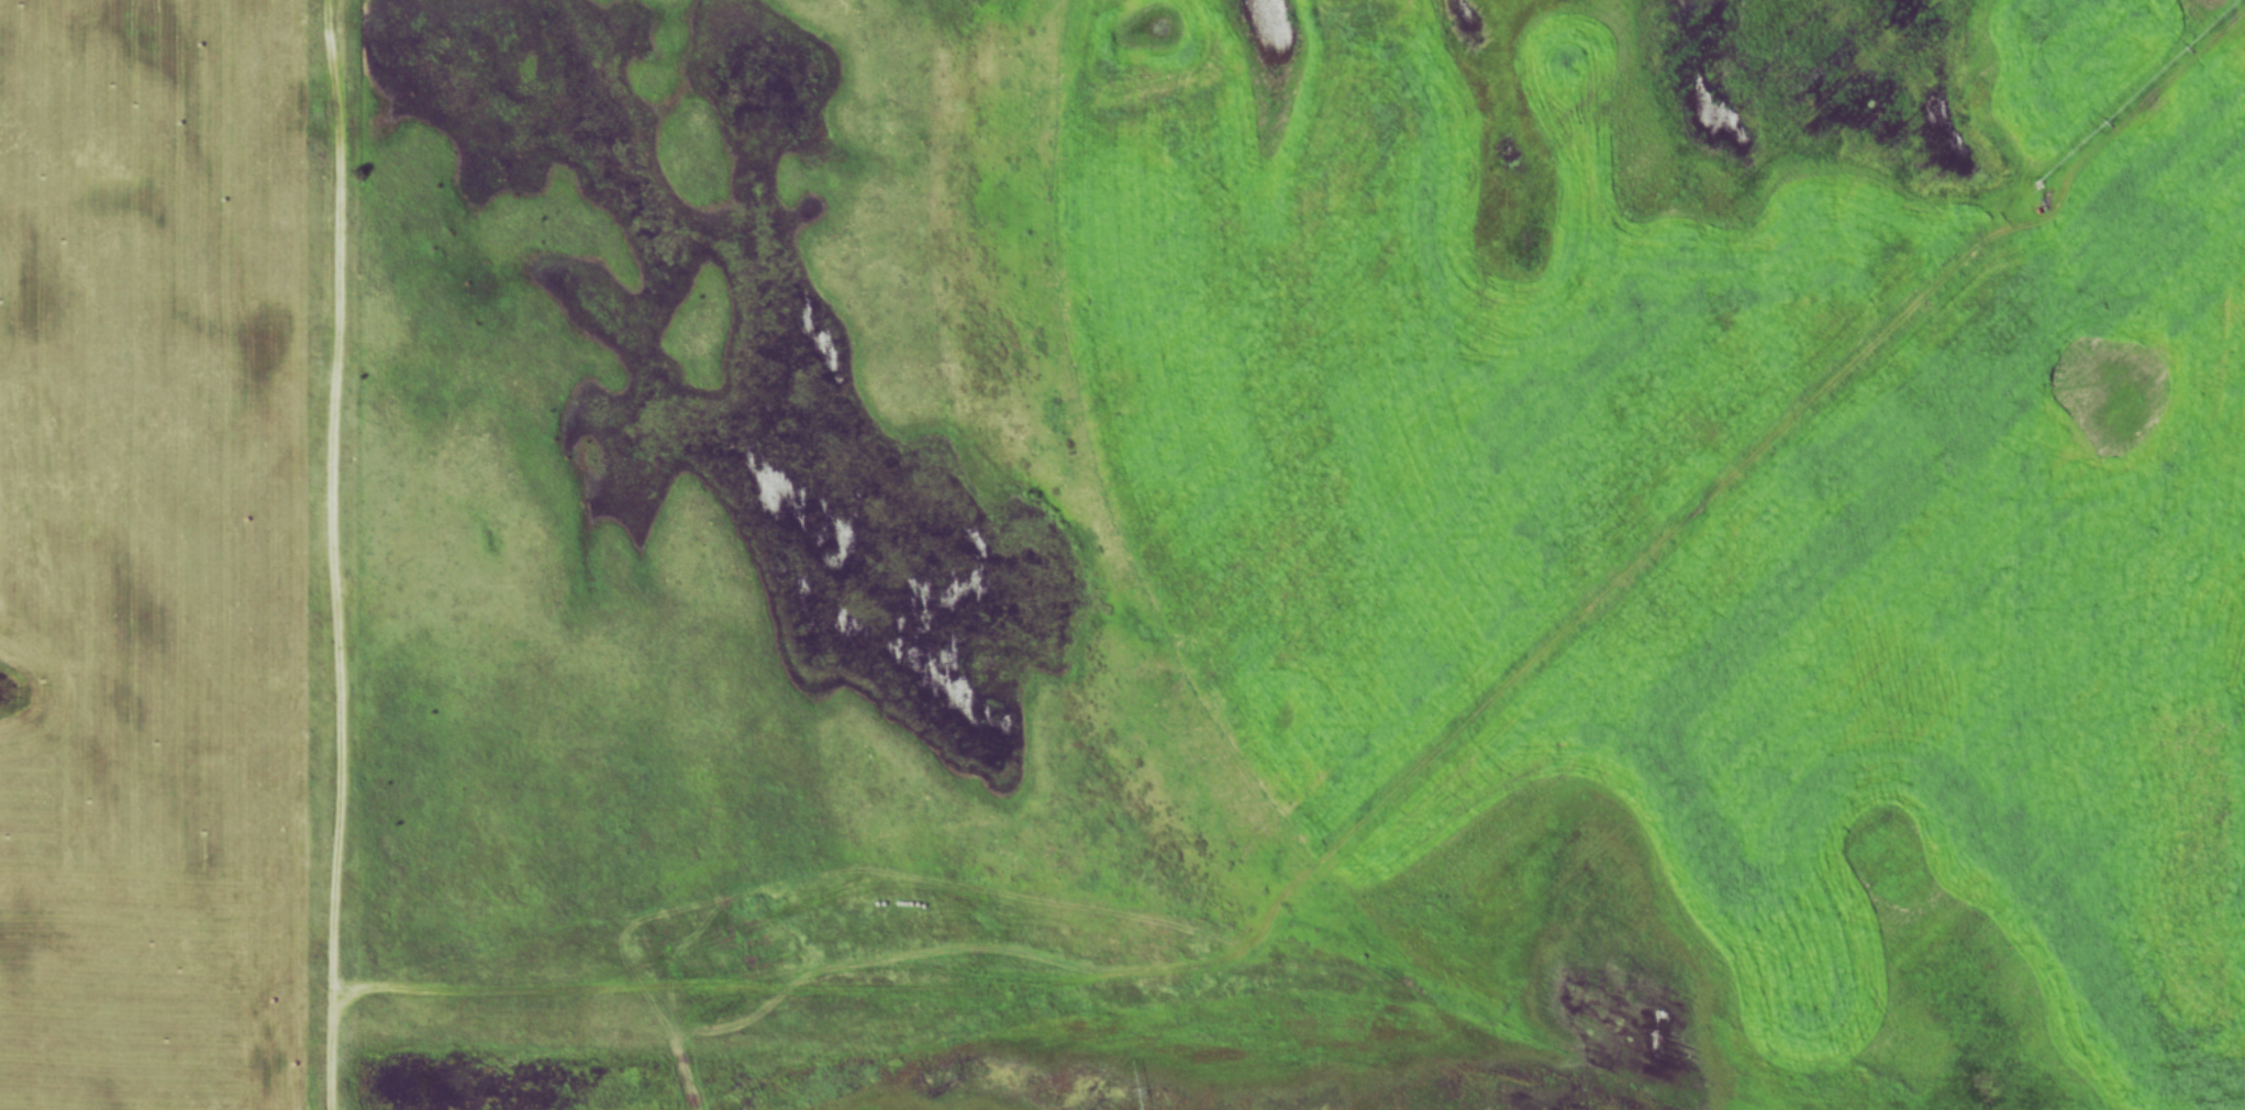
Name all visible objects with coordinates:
road: (330, 555)

